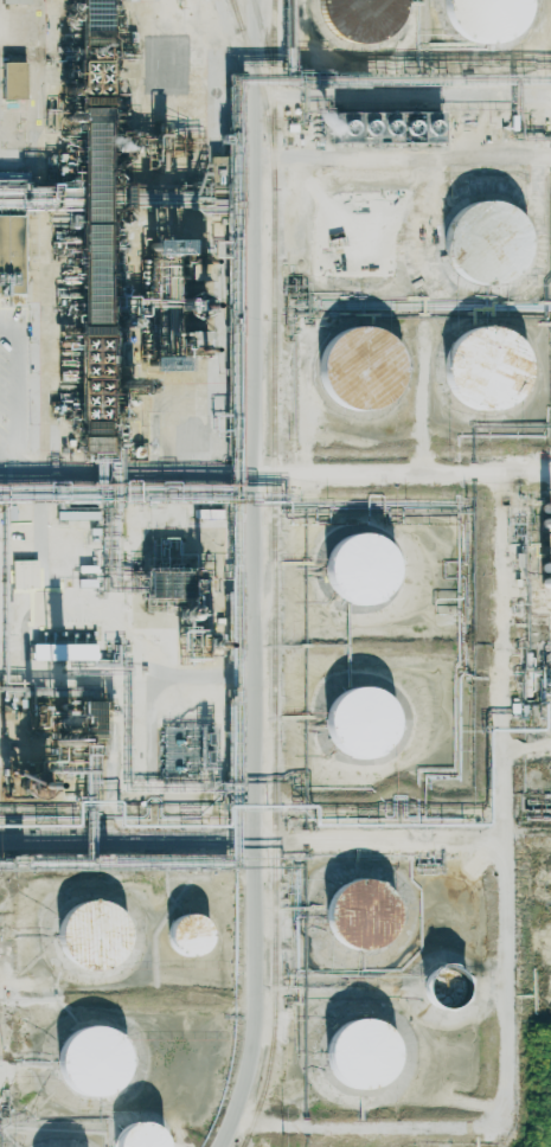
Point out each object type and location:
building: (14, 1)
railway: (238, 14)
building: (355, 19)
building: (483, 20)
building: (164, 55)
railway: (268, 63)
building: (12, 81)
railway: (263, 91)
road: (402, 98)
building: (87, 110)
building: (386, 127)
building: (485, 238)
building: (155, 251)
building: (190, 273)
building: (190, 309)
building: (358, 369)
building: (483, 370)
road: (275, 469)
building: (20, 531)
building: (359, 566)
building: (24, 572)
building: (51, 572)
railway: (275, 576)
road: (257, 577)
building: (19, 605)
building: (46, 607)
building: (62, 651)
building: (88, 717)
building: (359, 720)
building: (13, 726)
road: (506, 869)
building: (358, 911)
building: (90, 931)
building: (188, 934)
building: (441, 985)
building: (360, 1052)
building: (91, 1059)
building: (134, 1135)

